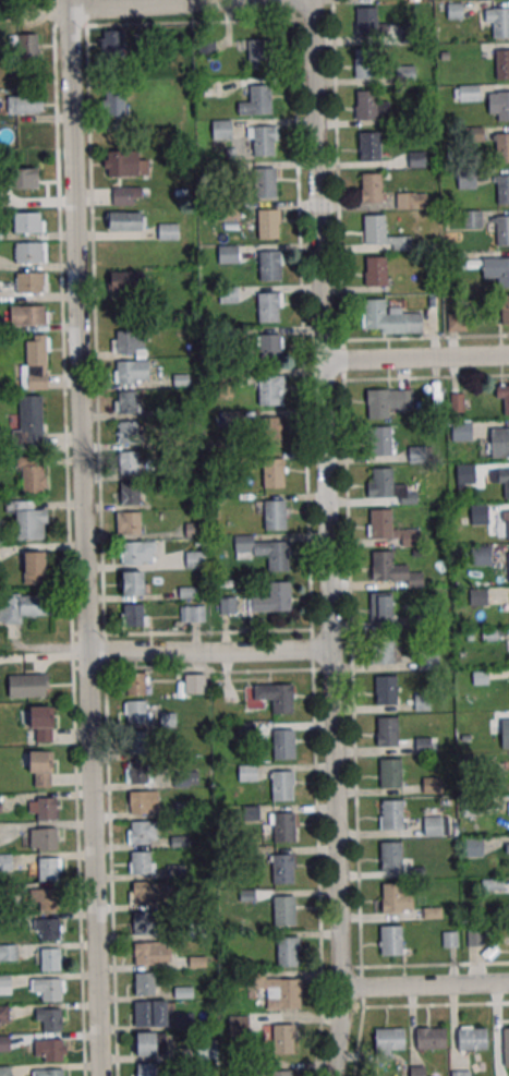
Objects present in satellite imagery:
road: (180, 4)
building: (366, 24)
building: (500, 24)
building: (111, 41)
building: (27, 46)
building: (258, 56)
building: (364, 64)
building: (502, 67)
building: (469, 93)
building: (259, 100)
building: (114, 104)
building: (24, 105)
building: (367, 106)
building: (502, 107)
building: (221, 129)
building: (263, 142)
building: (369, 147)
building: (502, 148)
building: (124, 164)
road: (337, 170)
building: (24, 178)
building: (466, 179)
building: (265, 183)
building: (372, 189)
building: (502, 190)
building: (124, 195)
building: (411, 201)
building: (473, 219)
building: (125, 220)
building: (28, 221)
building: (267, 225)
building: (168, 231)
building: (374, 231)
building: (502, 231)
building: (29, 252)
building: (228, 253)
building: (270, 267)
building: (376, 273)
building: (502, 274)
building: (124, 280)
building: (31, 282)
building: (267, 307)
building: (505, 311)
building: (28, 315)
building: (375, 315)
building: (129, 342)
building: (270, 348)
road: (415, 358)
road: (342, 359)
building: (36, 363)
building: (131, 372)
building: (270, 389)
building: (505, 398)
building: (126, 401)
building: (376, 403)
building: (31, 421)
building: (461, 431)
building: (128, 432)
building: (271, 432)
building: (379, 440)
building: (499, 442)
building: (417, 454)
building: (133, 462)
building: (274, 473)
building: (32, 474)
building: (465, 474)
building: (380, 482)
building: (506, 483)
building: (128, 493)
road: (307, 506)
building: (275, 515)
building: (478, 515)
building: (28, 520)
building: (129, 522)
building: (379, 523)
building: (508, 524)
building: (193, 530)
road: (84, 537)
road: (327, 537)
building: (265, 551)
building: (137, 553)
building: (482, 555)
building: (195, 559)
building: (381, 565)
building: (507, 565)
building: (34, 567)
building: (133, 584)
building: (271, 599)
building: (228, 604)
building: (22, 606)
building: (379, 606)
building: (193, 613)
building: (133, 615)
building: (380, 648)
road: (209, 651)
building: (426, 660)
building: (134, 682)
building: (193, 684)
building: (27, 685)
building: (385, 689)
building: (281, 698)
building: (421, 702)
building: (134, 711)
building: (40, 724)
road: (352, 728)
building: (386, 732)
building: (505, 733)
building: (136, 740)
building: (283, 745)
building: (422, 745)
building: (39, 767)
building: (136, 771)
building: (247, 773)
building: (389, 773)
building: (185, 777)
building: (431, 783)
building: (281, 784)
building: (137, 802)
building: (471, 805)
building: (46, 808)
building: (390, 813)
building: (432, 825)
building: (283, 826)
building: (141, 832)
building: (46, 838)
building: (473, 846)
building: (507, 847)
building: (389, 856)
building: (140, 861)
building: (47, 868)
building: (281, 869)
building: (141, 892)
building: (391, 897)
building: (47, 898)
building: (283, 909)
building: (142, 922)
building: (49, 929)
building: (475, 938)
building: (389, 940)
building: (287, 951)
building: (8, 952)
building: (143, 953)
building: (49, 959)
road: (434, 965)
building: (143, 982)
building: (5, 984)
road: (424, 984)
building: (50, 989)
building: (276, 989)
road: (435, 1004)
building: (143, 1012)
building: (3, 1014)
building: (50, 1019)
building: (184, 1020)
building: (239, 1025)
building: (282, 1038)
building: (429, 1038)
building: (471, 1038)
building: (388, 1039)
building: (145, 1043)
building: (506, 1045)
building: (207, 1049)
building: (52, 1050)
building: (145, 1069)
building: (4, 1071)
building: (417, 1071)
building: (52, 1072)
building: (279, 1073)
building: (461, 1073)

